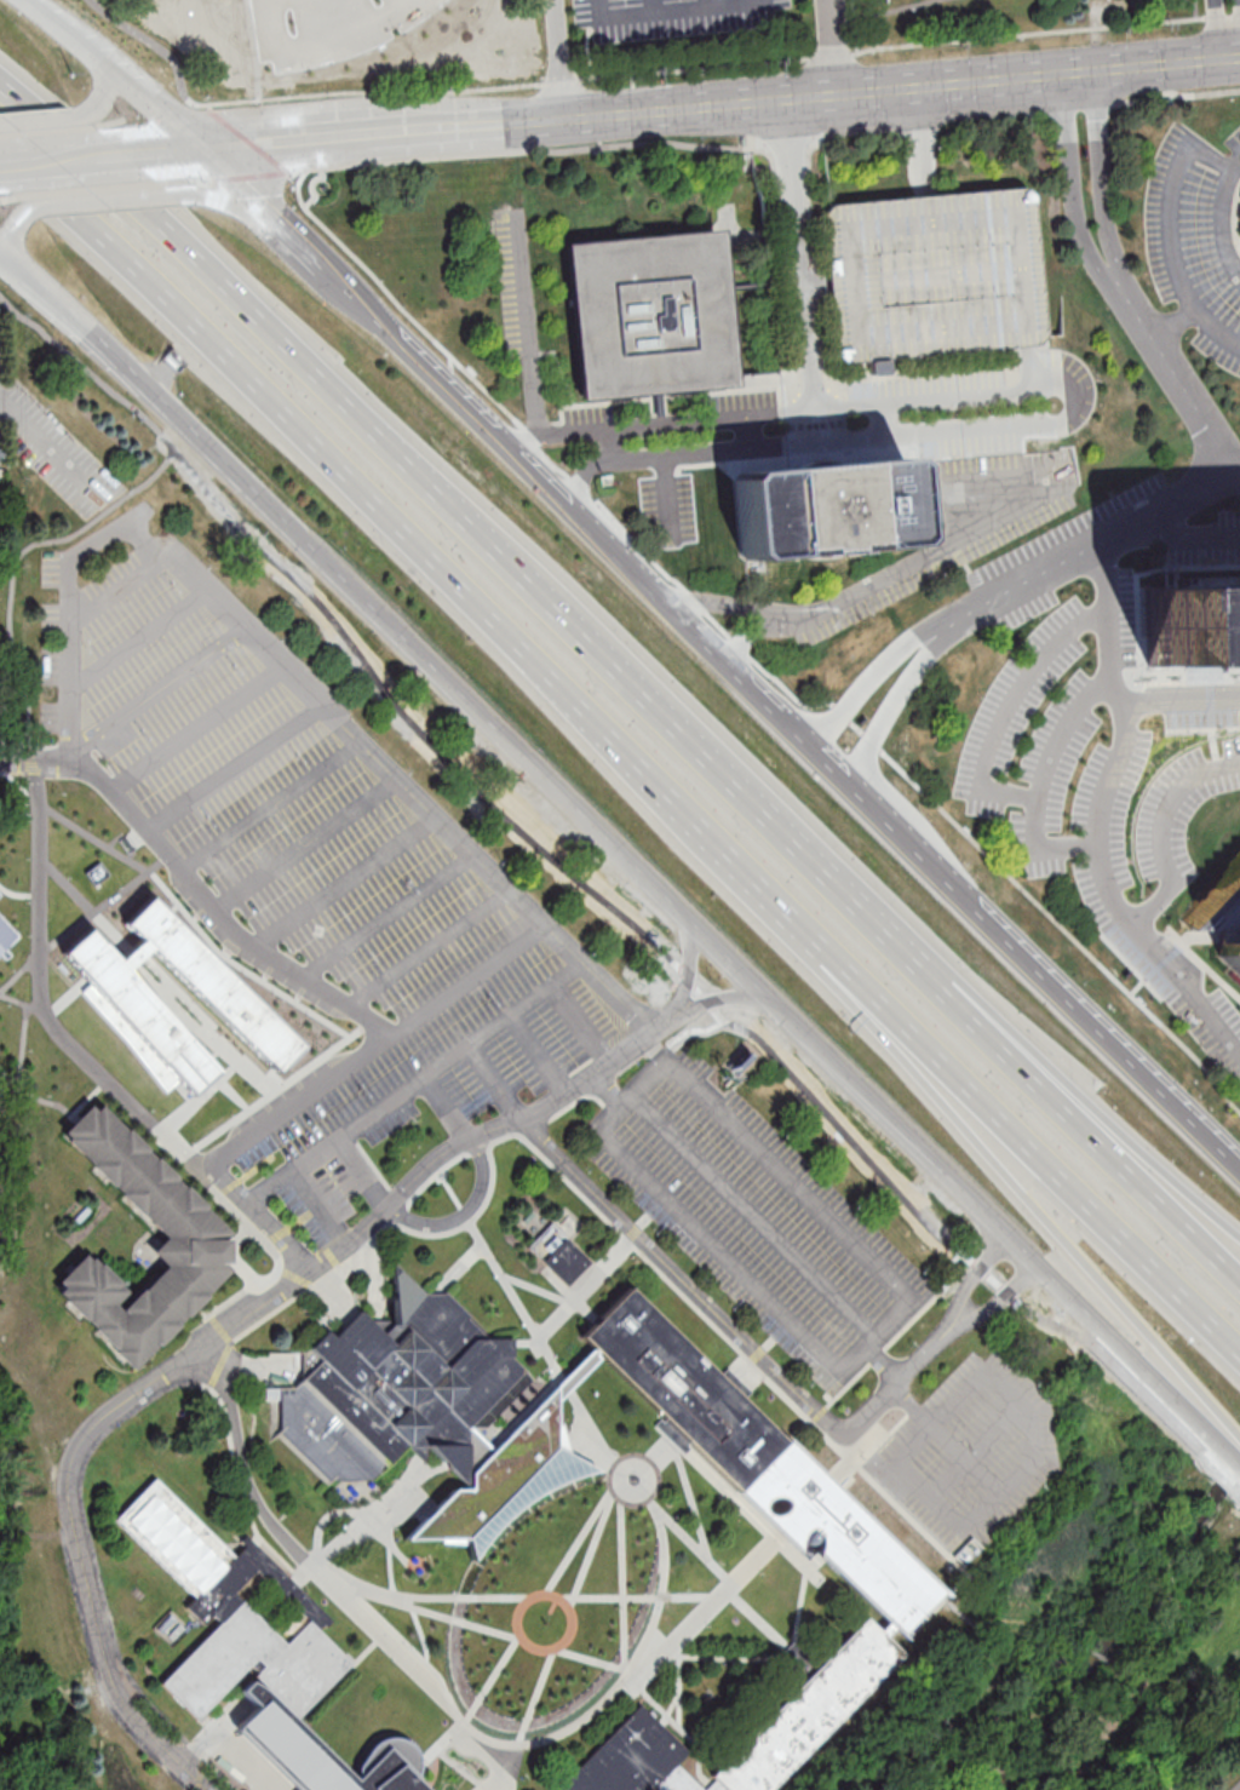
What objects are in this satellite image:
road: (29, 1)
road: (674, 11)
road: (1223, 16)
road: (1213, 31)
road: (1028, 33)
road: (836, 48)
road: (343, 50)
road: (844, 53)
road: (558, 61)
road: (121, 75)
road: (105, 90)
road: (435, 91)
road: (209, 107)
road: (694, 113)
road: (1003, 114)
road: (44, 117)
road: (249, 140)
road: (524, 149)
traffic signals: (208, 151)
road: (101, 160)
road: (27, 165)
road: (252, 174)
road: (185, 180)
road: (120, 185)
road: (85, 189)
road: (48, 193)
road: (251, 194)
road: (7, 197)
road: (1109, 199)
road: (99, 200)
road: (1073, 205)
road: (232, 207)
road: (1223, 225)
road: (1169, 229)
road: (11, 234)
road: (304, 247)
building: (931, 275)
road: (219, 280)
road: (401, 306)
building: (649, 314)
road: (530, 326)
road: (1215, 331)
road: (930, 398)
road: (272, 401)
road: (810, 409)
road: (52, 453)
parking lot: (58, 454)
road: (592, 466)
road: (1183, 504)
building: (821, 509)
road: (909, 569)
road: (12, 573)
road: (120, 592)
road: (754, 609)
building: (1190, 625)
road: (138, 643)
road: (596, 649)
road: (69, 656)
road: (880, 666)
road: (159, 693)
road: (1178, 699)
road: (902, 707)
road: (777, 712)
road: (196, 730)
road: (435, 747)
road: (35, 748)
road: (36, 762)
road: (236, 769)
road: (18, 773)
road: (983, 776)
road: (272, 807)
road: (682, 810)
road: (1097, 822)
road: (1162, 830)
road: (305, 844)
road: (1040, 849)
road: (624, 857)
parking lot: (310, 882)
road: (131, 883)
road: (343, 883)
road: (64, 884)
road: (839, 888)
road: (17, 895)
building: (0, 901)
building: (1217, 905)
road: (172, 908)
road: (201, 912)
road: (386, 916)
road: (63, 934)
road: (1077, 942)
road: (231, 943)
building: (7, 945)
road: (429, 948)
building: (1230, 951)
road: (690, 968)
road: (268, 970)
road: (251, 973)
road: (18, 974)
road: (467, 981)
road: (300, 991)
road: (65, 996)
road: (13, 999)
road: (717, 1003)
building: (126, 1005)
road: (174, 1008)
road: (201, 1016)
road: (177, 1017)
road: (662, 1022)
road: (580, 1025)
road: (360, 1028)
road: (688, 1031)
road: (23, 1046)
road: (538, 1055)
road: (666, 1062)
road: (272, 1071)
road: (214, 1077)
road: (415, 1084)
road: (494, 1086)
road: (604, 1092)
road: (232, 1094)
road: (1083, 1095)
road: (33, 1096)
road: (199, 1096)
road: (190, 1100)
road: (87, 1102)
road: (446, 1109)
road: (1078, 1124)
road: (843, 1134)
road: (499, 1138)
road: (1033, 1155)
road: (364, 1174)
road: (434, 1176)
road: (201, 1180)
road: (1034, 1203)
road: (318, 1210)
road: (464, 1215)
parking lot: (756, 1217)
road: (754, 1218)
building: (197, 1241)
road: (229, 1253)
building: (558, 1253)
road: (231, 1256)
road: (599, 1268)
road: (459, 1269)
road: (988, 1276)
road: (297, 1278)
road: (682, 1278)
road: (972, 1278)
road: (375, 1280)
road: (536, 1289)
road: (568, 1295)
road: (337, 1300)
road: (998, 1303)
road: (527, 1323)
road: (523, 1341)
road: (890, 1341)
road: (207, 1346)
road: (759, 1352)
road: (884, 1362)
road: (263, 1367)
road: (978, 1381)
road: (896, 1382)
road: (1138, 1387)
building: (400, 1389)
building: (678, 1389)
road: (516, 1417)
road: (946, 1440)
road: (872, 1445)
road: (581, 1446)
road: (977, 1451)
road: (659, 1456)
parking lot: (966, 1459)
road: (637, 1463)
road: (417, 1467)
building: (504, 1479)
road: (239, 1484)
road: (723, 1485)
road: (368, 1496)
road: (419, 1501)
road: (690, 1501)
road: (651, 1504)
road: (372, 1522)
road: (917, 1526)
building: (838, 1536)
road: (580, 1541)
road: (591, 1548)
road: (93, 1553)
road: (664, 1556)
road: (800, 1560)
road: (390, 1571)
road: (719, 1572)
road: (325, 1579)
road: (345, 1582)
road: (622, 1582)
road: (988, 1585)
road: (556, 1595)
road: (557, 1597)
road: (552, 1605)
park: (556, 1606)
building: (231, 1611)
road: (436, 1613)
road: (701, 1616)
road: (757, 1619)
road: (1005, 1624)
building: (172, 1629)
road: (659, 1636)
road: (673, 1651)
road: (1097, 1657)
road: (590, 1658)
road: (648, 1658)
road: (737, 1658)
road: (351, 1659)
road: (346, 1675)
road: (493, 1679)
road: (1217, 1679)
road: (679, 1692)
road: (1184, 1692)
road: (538, 1697)
road: (671, 1709)
building: (806, 1709)
road: (209, 1722)
road: (225, 1722)
road: (674, 1725)
road: (558, 1733)
road: (1109, 1733)
road: (1165, 1738)
road: (441, 1743)
road: (226, 1748)
building: (323, 1752)
building: (633, 1760)
road: (509, 1768)
road: (216, 1771)
road: (464, 1772)
road: (202, 1774)
road: (1236, 1786)

